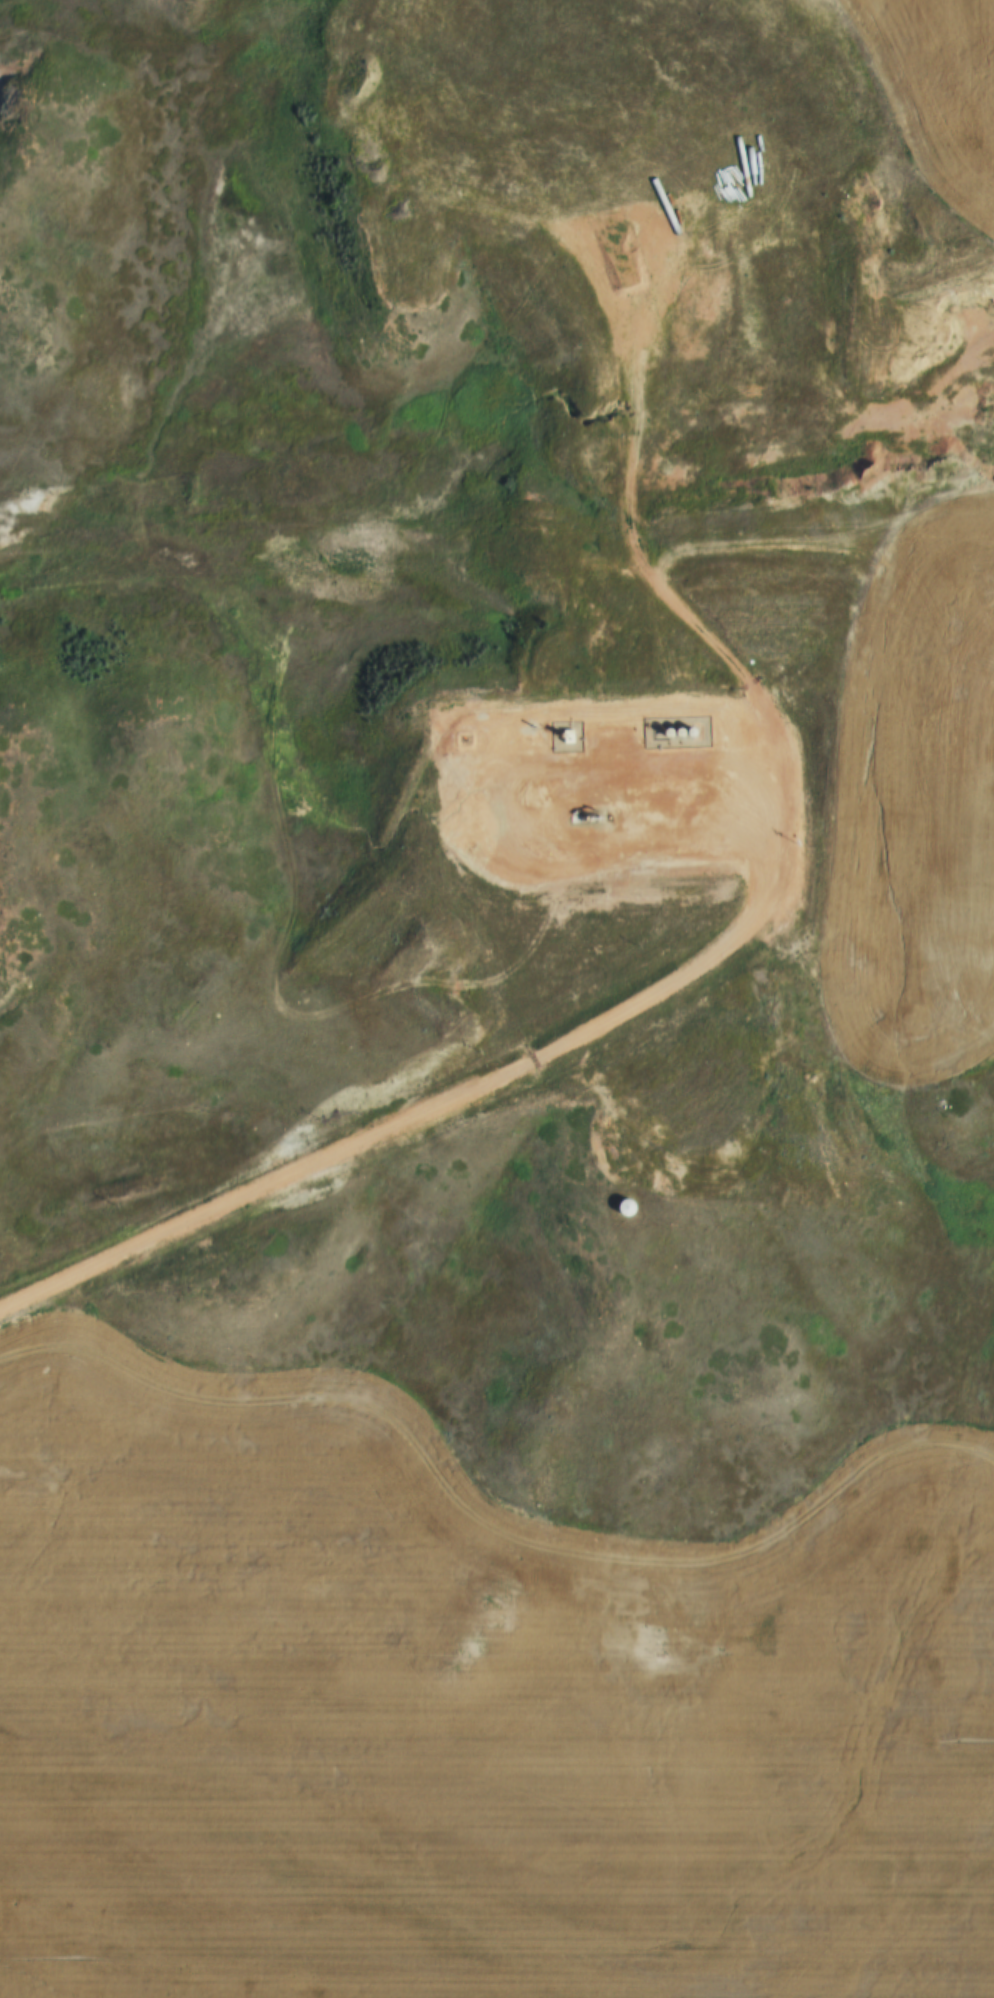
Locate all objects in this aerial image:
quarry: (774, 370)
building: (633, 732)
building: (561, 734)
road: (487, 810)
petroleum well: (586, 814)
road: (702, 962)
building: (632, 1209)

